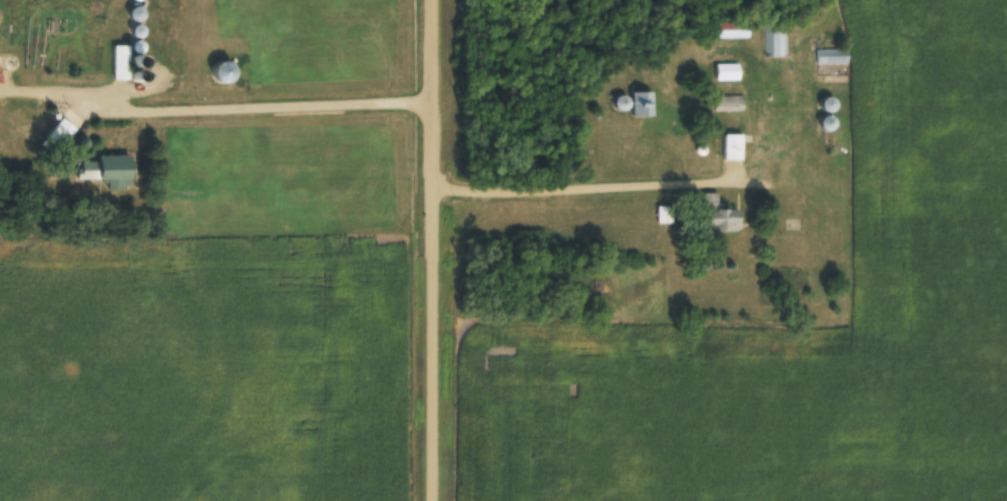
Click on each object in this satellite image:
building: (139, 12)
building: (733, 29)
building: (775, 39)
building: (833, 55)
building: (124, 56)
building: (728, 71)
building: (728, 102)
building: (639, 103)
building: (832, 103)
road: (254, 106)
building: (831, 122)
building: (63, 132)
building: (734, 146)
building: (111, 170)
road: (583, 192)
building: (719, 214)
road: (431, 250)

